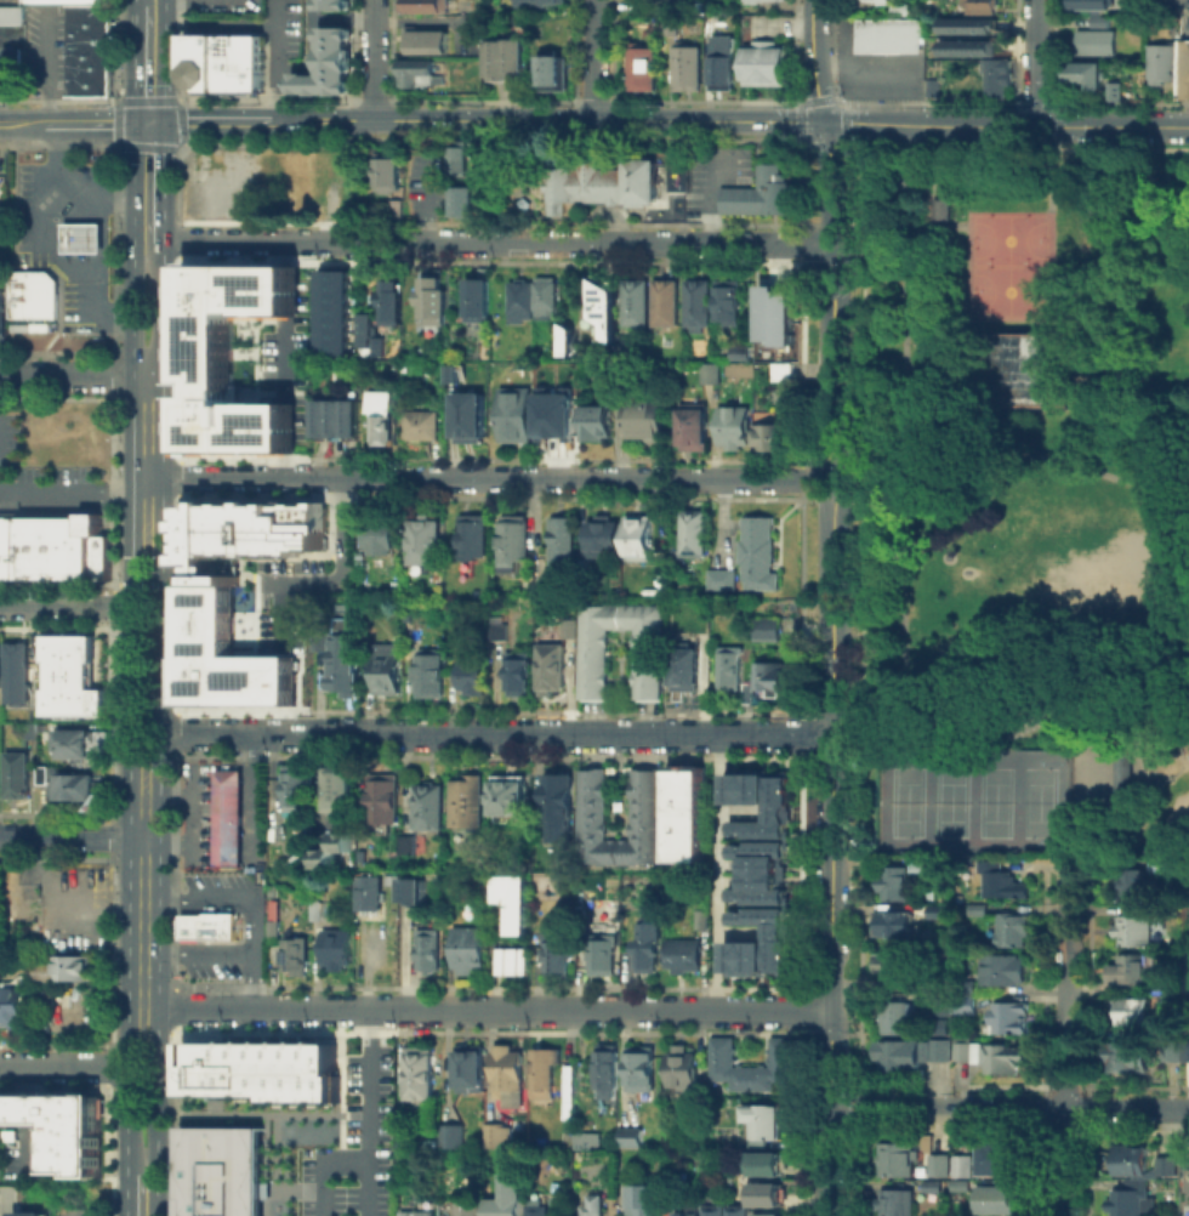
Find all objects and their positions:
building: (747, 0)
building: (870, 0)
building: (66, 1)
road: (133, 1)
building: (331, 2)
building: (534, 2)
building: (653, 2)
building: (1086, 4)
building: (420, 5)
building: (977, 6)
building: (898, 8)
building: (8, 12)
building: (86, 15)
building: (667, 25)
building: (966, 25)
building: (884, 34)
building: (86, 38)
building: (423, 39)
building: (1092, 40)
building: (967, 46)
parking lot: (44, 50)
building: (86, 55)
building: (504, 57)
road: (163, 59)
building: (323, 59)
road: (374, 59)
road: (591, 59)
building: (764, 59)
building: (201, 61)
road: (812, 61)
building: (1160, 61)
road: (132, 62)
building: (238, 62)
building: (719, 62)
road: (1034, 62)
building: (10, 66)
building: (683, 66)
building: (86, 67)
parking lot: (872, 67)
building: (1183, 67)
building: (550, 69)
building: (641, 69)
building: (1081, 72)
building: (417, 73)
building: (995, 76)
building: (86, 84)
building: (1111, 90)
road: (216, 120)
road: (546, 120)
road: (147, 121)
traffic signals: (163, 121)
traffic signals: (821, 121)
traffic signals: (132, 123)
road: (23, 124)
road: (89, 124)
road: (1005, 125)
road: (844, 135)
road: (835, 146)
building: (457, 159)
building: (389, 175)
road: (1041, 175)
road: (163, 180)
building: (599, 183)
road: (73, 184)
building: (762, 197)
road: (932, 201)
building: (461, 203)
building: (943, 208)
building: (397, 211)
parking lot: (25, 217)
road: (38, 220)
road: (965, 226)
building: (80, 235)
gas station: (80, 235)
road: (261, 239)
road: (596, 242)
road: (132, 250)
park: (1007, 267)
road: (80, 273)
building: (32, 292)
road: (831, 292)
road: (905, 296)
building: (547, 297)
parking lot: (66, 301)
building: (522, 301)
building: (633, 301)
building: (479, 302)
building: (730, 302)
building: (667, 303)
building: (394, 305)
building: (434, 305)
building: (602, 306)
building: (699, 306)
road: (161, 308)
building: (1, 311)
building: (334, 312)
building: (773, 314)
building: (371, 334)
building: (741, 350)
building: (229, 357)
building: (1025, 366)
park: (1025, 366)
building: (456, 373)
building: (715, 373)
building: (785, 374)
road: (73, 375)
building: (609, 379)
road: (939, 402)
building: (513, 413)
building: (552, 413)
building: (473, 414)
building: (385, 419)
building: (341, 421)
building: (647, 422)
building: (598, 425)
road: (146, 427)
building: (426, 427)
building: (696, 430)
building: (736, 430)
road: (992, 437)
building: (776, 439)
road: (855, 461)
road: (479, 479)
road: (846, 481)
road: (142, 484)
road: (1185, 488)
road: (70, 493)
park: (1028, 504)
road: (1182, 505)
road: (1185, 517)
building: (696, 534)
building: (243, 535)
building: (381, 536)
building: (473, 538)
building: (604, 538)
building: (639, 540)
building: (513, 541)
building: (563, 542)
building: (426, 544)
building: (51, 546)
road: (131, 546)
building: (761, 555)
road: (1183, 563)
building: (723, 581)
road: (144, 583)
road: (66, 604)
road: (905, 607)
road: (1184, 615)
building: (569, 630)
building: (499, 631)
building: (769, 631)
road: (160, 637)
building: (218, 655)
road: (1160, 657)
building: (341, 658)
building: (596, 664)
building: (0, 665)
building: (17, 667)
building: (553, 667)
building: (388, 670)
building: (733, 670)
building: (519, 672)
building: (688, 674)
building: (74, 676)
building: (431, 677)
building: (473, 678)
building: (774, 681)
building: (750, 694)
fountain: (1094, 695)
road: (1130, 700)
road: (130, 701)
building: (34, 734)
road: (495, 734)
road: (955, 735)
building: (76, 746)
building: (1117, 774)
building: (46, 777)
building: (19, 778)
road: (1073, 786)
building: (78, 788)
building: (298, 790)
building: (340, 790)
building: (512, 797)
building: (383, 801)
building: (467, 803)
road: (830, 803)
park: (967, 803)
building: (429, 807)
building: (596, 807)
building: (561, 811)
building: (688, 817)
building: (227, 822)
road: (72, 836)
building: (409, 847)
building: (329, 848)
building: (264, 853)
building: (1173, 868)
building: (937, 869)
road: (717, 873)
building: (757, 874)
building: (894, 882)
building: (1003, 883)
building: (1134, 887)
building: (420, 891)
building: (371, 894)
building: (511, 898)
road: (143, 902)
building: (980, 911)
building: (318, 914)
building: (937, 915)
road: (56, 919)
building: (704, 919)
building: (894, 927)
road: (252, 928)
building: (209, 930)
building: (1134, 931)
building: (275, 932)
building: (1016, 932)
building: (652, 948)
building: (468, 949)
building: (337, 951)
building: (431, 951)
building: (296, 956)
building: (561, 958)
building: (605, 958)
building: (685, 958)
building: (511, 959)
building: (900, 971)
building: (1006, 971)
building: (1131, 971)
building: (66, 972)
road: (252, 981)
building: (1159, 984)
building: (971, 985)
building: (12, 1007)
building: (971, 1007)
road: (485, 1010)
building: (1133, 1012)
building: (897, 1019)
building: (1011, 1019)
road: (1065, 1041)
building: (1187, 1052)
building: (912, 1055)
building: (1170, 1055)
building: (997, 1058)
building: (1127, 1058)
road: (63, 1064)
building: (467, 1067)
building: (753, 1067)
building: (683, 1069)
building: (609, 1070)
building: (642, 1070)
building: (546, 1074)
building: (421, 1075)
building: (511, 1078)
building: (266, 1079)
road: (126, 1087)
road: (365, 1089)
road: (1008, 1109)
road: (157, 1110)
building: (768, 1123)
building: (67, 1131)
building: (450, 1135)
building: (502, 1137)
building: (585, 1138)
building: (633, 1138)
parking lot: (354, 1142)
building: (989, 1155)
building: (1130, 1159)
building: (900, 1161)
road: (829, 1163)
building: (962, 1163)
building: (773, 1164)
building: (1166, 1164)
building: (1184, 1165)
building: (941, 1166)
road: (318, 1169)
building: (222, 1174)
building: (963, 1191)
road: (364, 1192)
road: (126, 1193)
building: (774, 1194)
building: (510, 1198)
building: (1131, 1198)
building: (645, 1200)
building: (999, 1203)
road: (5, 1204)
building: (899, 1204)
building: (602, 1206)
building: (693, 1209)
building: (471, 1210)
building: (541, 1210)
building: (27, 1212)
building: (679, 1212)
building: (718, 1212)
building: (743, 1212)
building: (767, 1214)
building: (420, 1215)

